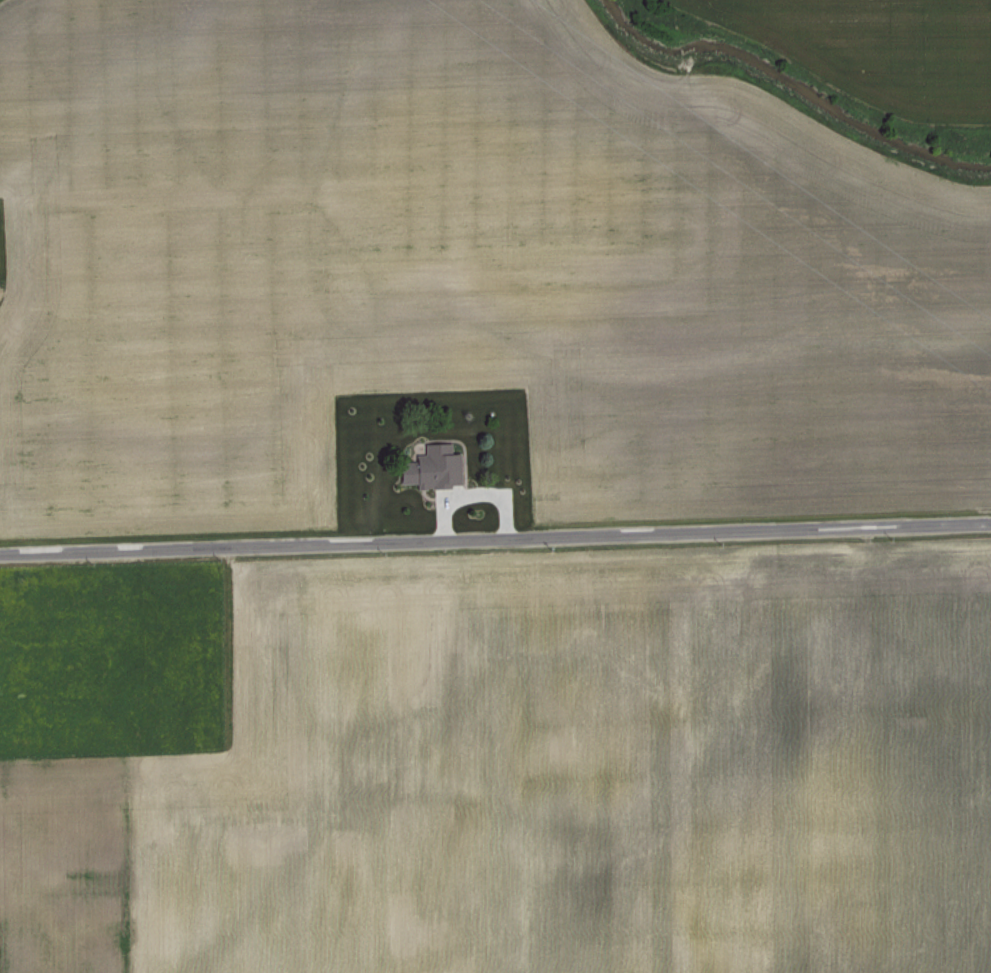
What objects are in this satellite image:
building: (431, 466)
road: (495, 540)

